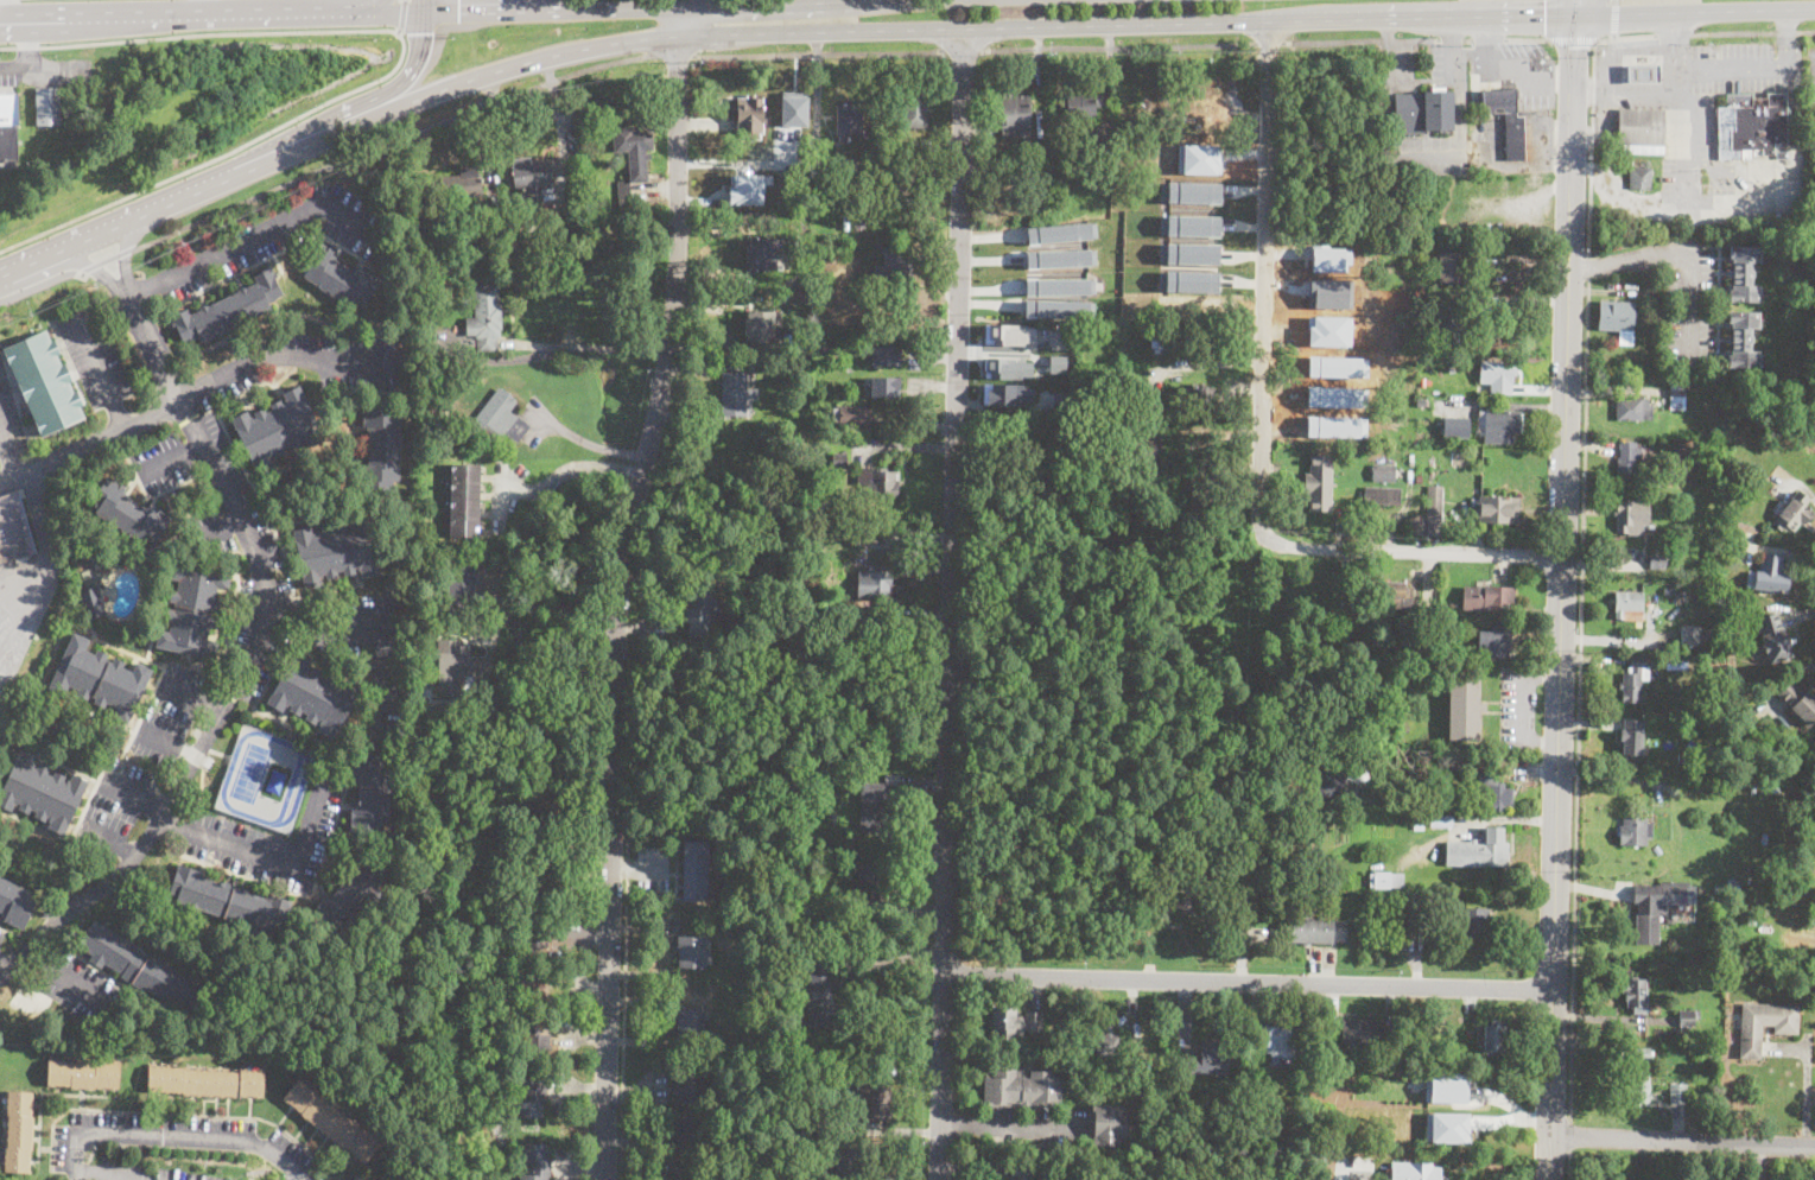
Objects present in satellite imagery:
road: (404, 0)
road: (802, 4)
road: (203, 6)
road: (343, 6)
road: (424, 6)
road: (472, 6)
road: (5, 8)
road: (640, 8)
road: (508, 11)
road: (370, 12)
traffic signals: (458, 12)
road: (189, 13)
road: (400, 15)
road: (31, 17)
traffic signals: (1546, 17)
road: (1614, 18)
road: (1549, 19)
road: (1248, 20)
road: (1451, 31)
traffic signals: (423, 32)
road: (1705, 32)
road: (1389, 34)
road: (1416, 38)
road: (1573, 39)
road: (26, 42)
road: (1271, 42)
traffic signals: (1573, 45)
road: (1121, 47)
road: (964, 50)
road: (674, 53)
road: (819, 53)
road: (395, 65)
road: (1759, 66)
road: (14, 68)
building: (1643, 74)
road: (405, 78)
road: (458, 83)
road: (1664, 89)
building: (1083, 104)
building: (47, 106)
building: (915, 106)
road: (1388, 106)
building: (794, 107)
building: (1423, 110)
building: (750, 115)
building: (1015, 118)
building: (849, 120)
building: (1508, 120)
building: (8, 122)
road: (1461, 123)
building: (1751, 126)
building: (1641, 131)
road: (392, 140)
road: (294, 141)
building: (893, 141)
road: (1593, 146)
building: (1782, 152)
building: (634, 164)
building: (531, 176)
road: (338, 177)
building: (1639, 178)
building: (900, 179)
building: (1036, 183)
building: (461, 185)
building: (745, 188)
building: (1193, 191)
building: (1810, 199)
road: (1682, 204)
road: (150, 210)
building: (859, 221)
road: (269, 224)
building: (1192, 224)
building: (775, 230)
building: (1058, 231)
parking lot: (277, 237)
road: (1708, 246)
road: (125, 253)
building: (761, 253)
building: (1192, 253)
road: (1689, 253)
building: (1058, 258)
road: (108, 260)
road: (27, 262)
building: (894, 266)
road: (1591, 266)
road: (93, 267)
building: (1448, 267)
building: (1741, 274)
building: (337, 275)
road: (1263, 277)
building: (1191, 280)
road: (40, 283)
road: (141, 286)
building: (1056, 286)
building: (1339, 290)
building: (437, 294)
building: (1055, 306)
building: (228, 310)
building: (484, 318)
building: (1617, 318)
building: (1448, 324)
building: (761, 326)
building: (1008, 332)
building: (1740, 338)
building: (1162, 341)
road: (152, 347)
building: (392, 347)
road: (590, 347)
building: (801, 351)
parking lot: (94, 354)
building: (884, 355)
road: (286, 356)
road: (1204, 362)
building: (1058, 363)
parking lot: (304, 364)
building: (1007, 366)
road: (100, 372)
building: (469, 373)
building: (1122, 374)
building: (1498, 375)
building: (1722, 375)
building: (44, 382)
building: (883, 386)
building: (1335, 392)
building: (1005, 394)
building: (735, 395)
building: (1676, 396)
building: (1195, 398)
building: (1426, 401)
building: (1150, 405)
building: (1632, 408)
building: (850, 414)
parking lot: (8, 418)
building: (500, 419)
building: (1500, 423)
building: (1455, 426)
building: (277, 429)
road: (91, 442)
road: (592, 444)
building: (1015, 444)
building: (381, 446)
road: (7, 450)
building: (1413, 450)
building: (1144, 452)
building: (1686, 452)
road: (173, 456)
building: (1104, 457)
building: (1627, 457)
building: (839, 459)
parking lot: (161, 461)
building: (1051, 464)
road: (575, 467)
building: (1383, 472)
building: (877, 481)
building: (1318, 481)
building: (205, 493)
building: (1383, 496)
road: (1811, 496)
building: (1202, 497)
building: (463, 500)
building: (1499, 509)
building: (1792, 513)
building: (128, 514)
building: (1429, 514)
building: (1629, 520)
building: (13, 529)
road: (218, 529)
road: (897, 534)
building: (336, 551)
road: (1413, 551)
road: (1794, 553)
building: (1658, 556)
parking lot: (265, 558)
road: (45, 571)
building: (1768, 575)
building: (875, 584)
building: (463, 585)
road: (620, 586)
road: (1563, 589)
road: (497, 591)
building: (1390, 595)
building: (1692, 595)
building: (1677, 596)
building: (1487, 597)
building: (1626, 602)
building: (91, 603)
road: (952, 604)
road: (531, 607)
building: (192, 609)
building: (699, 613)
road: (1800, 614)
building: (1692, 634)
road: (376, 635)
building: (1772, 636)
building: (1494, 641)
building: (1663, 659)
building: (1671, 662)
building: (450, 667)
road: (1804, 667)
building: (99, 678)
building: (1633, 679)
parking lot: (387, 683)
building: (313, 696)
road: (192, 698)
road: (1580, 699)
building: (1798, 700)
road: (1519, 704)
building: (1465, 706)
parking lot: (171, 713)
road: (218, 717)
building: (1404, 727)
building: (546, 730)
building: (1631, 737)
road: (167, 743)
building: (1682, 756)
building: (1477, 761)
building: (1413, 776)
building: (891, 778)
building: (1338, 779)
building: (1397, 779)
building: (1705, 781)
building: (1728, 781)
building: (1764, 784)
building: (1775, 784)
building: (42, 792)
building: (1491, 792)
building: (372, 793)
road: (134, 797)
parking lot: (113, 807)
building: (874, 807)
building: (258, 811)
building: (548, 817)
building: (832, 818)
building: (500, 820)
building: (1441, 820)
building: (1419, 826)
building: (1635, 830)
parking lot: (268, 840)
road: (114, 843)
building: (1479, 849)
building: (1656, 849)
road: (272, 859)
building: (694, 870)
building: (542, 877)
road: (1250, 877)
building: (494, 880)
building: (1386, 880)
building: (1728, 887)
building: (869, 889)
building: (350, 895)
building: (1269, 901)
building: (229, 902)
building: (14, 903)
building: (1753, 907)
building: (1652, 908)
building: (1671, 915)
building: (1420, 916)
building: (1390, 918)
building: (1474, 922)
building: (1319, 930)
parking lot: (1, 934)
building: (532, 937)
building: (690, 952)
road: (8, 962)
building: (749, 962)
building: (140, 969)
road: (623, 978)
road: (71, 981)
road: (1250, 982)
parking lot: (84, 988)
building: (534, 988)
building: (820, 995)
building: (1636, 995)
building: (30, 1000)
building: (1686, 1017)
building: (1013, 1020)
building: (687, 1022)
building: (1764, 1024)
building: (1360, 1030)
building: (535, 1034)
building: (1492, 1036)
building: (1276, 1041)
building: (1108, 1047)
building: (1709, 1048)
building: (1206, 1059)
building: (82, 1074)
building: (1637, 1074)
building: (1123, 1079)
building: (205, 1083)
building: (690, 1085)
building: (1445, 1086)
building: (1022, 1087)
building: (1316, 1087)
road: (1806, 1091)
building: (529, 1092)
building: (1677, 1093)
building: (1397, 1098)
building: (871, 1100)
building: (808, 1118)
building: (330, 1122)
road: (1009, 1123)
building: (1106, 1124)
building: (1255, 1128)
building: (18, 1131)
building: (690, 1133)
road: (174, 1136)
building: (1354, 1136)
parking lot: (177, 1137)
building: (1344, 1137)
road: (1572, 1141)
road: (1682, 1141)
building: (1360, 1160)
building: (535, 1161)
building: (844, 1165)
road: (1570, 1169)
parking lot: (145, 1171)
road: (101, 1172)
building: (1024, 1172)
building: (1411, 1172)
building: (686, 1173)
building: (357, 1179)

